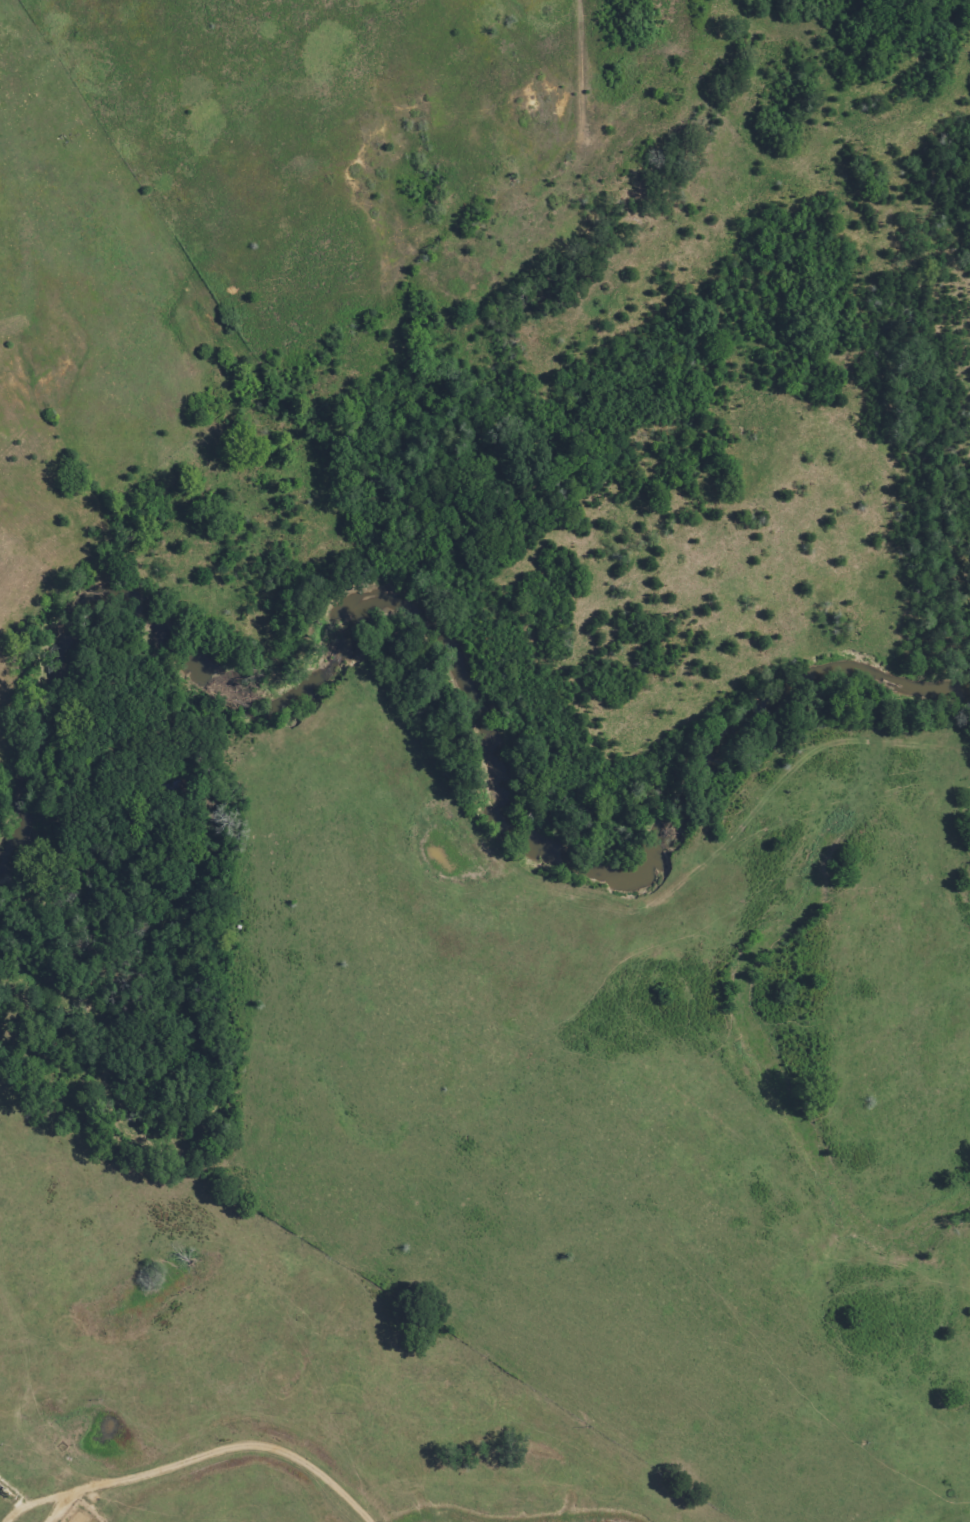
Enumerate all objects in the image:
road: (193, 1461)

